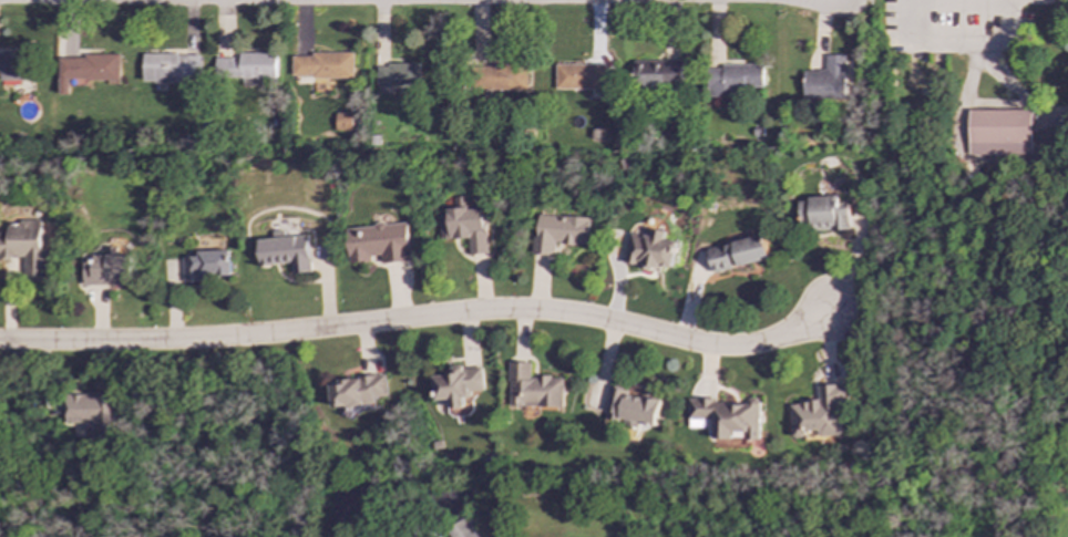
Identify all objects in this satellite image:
road: (959, 4)
parking lot: (957, 27)
building: (14, 65)
building: (170, 65)
building: (247, 65)
building: (322, 65)
building: (89, 69)
building: (399, 74)
building: (657, 74)
building: (503, 76)
building: (581, 76)
building: (733, 79)
building: (829, 79)
building: (343, 121)
building: (999, 132)
building: (823, 214)
building: (463, 227)
building: (559, 231)
building: (377, 242)
park: (975, 246)
building: (24, 248)
building: (649, 250)
building: (285, 251)
building: (737, 252)
building: (206, 265)
building: (105, 268)
road: (422, 317)
building: (456, 384)
building: (532, 388)
building: (358, 390)
building: (631, 407)
building: (819, 412)
building: (91, 413)
building: (726, 416)
road: (379, 487)
building: (461, 529)

